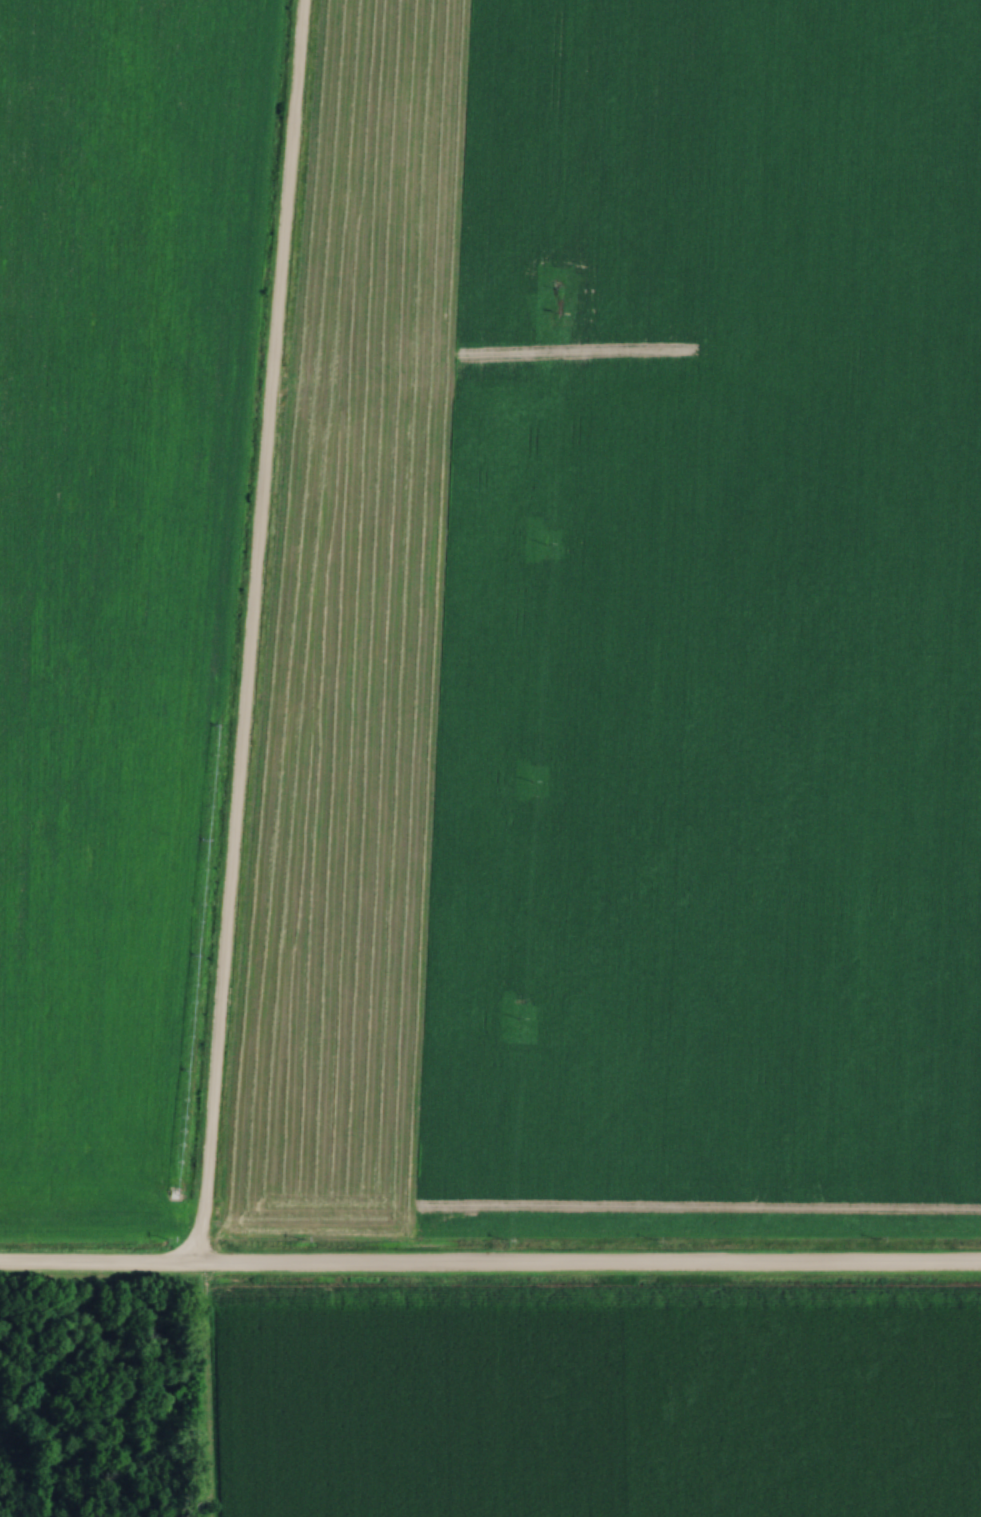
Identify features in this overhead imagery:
road: (250, 634)
road: (490, 1268)

